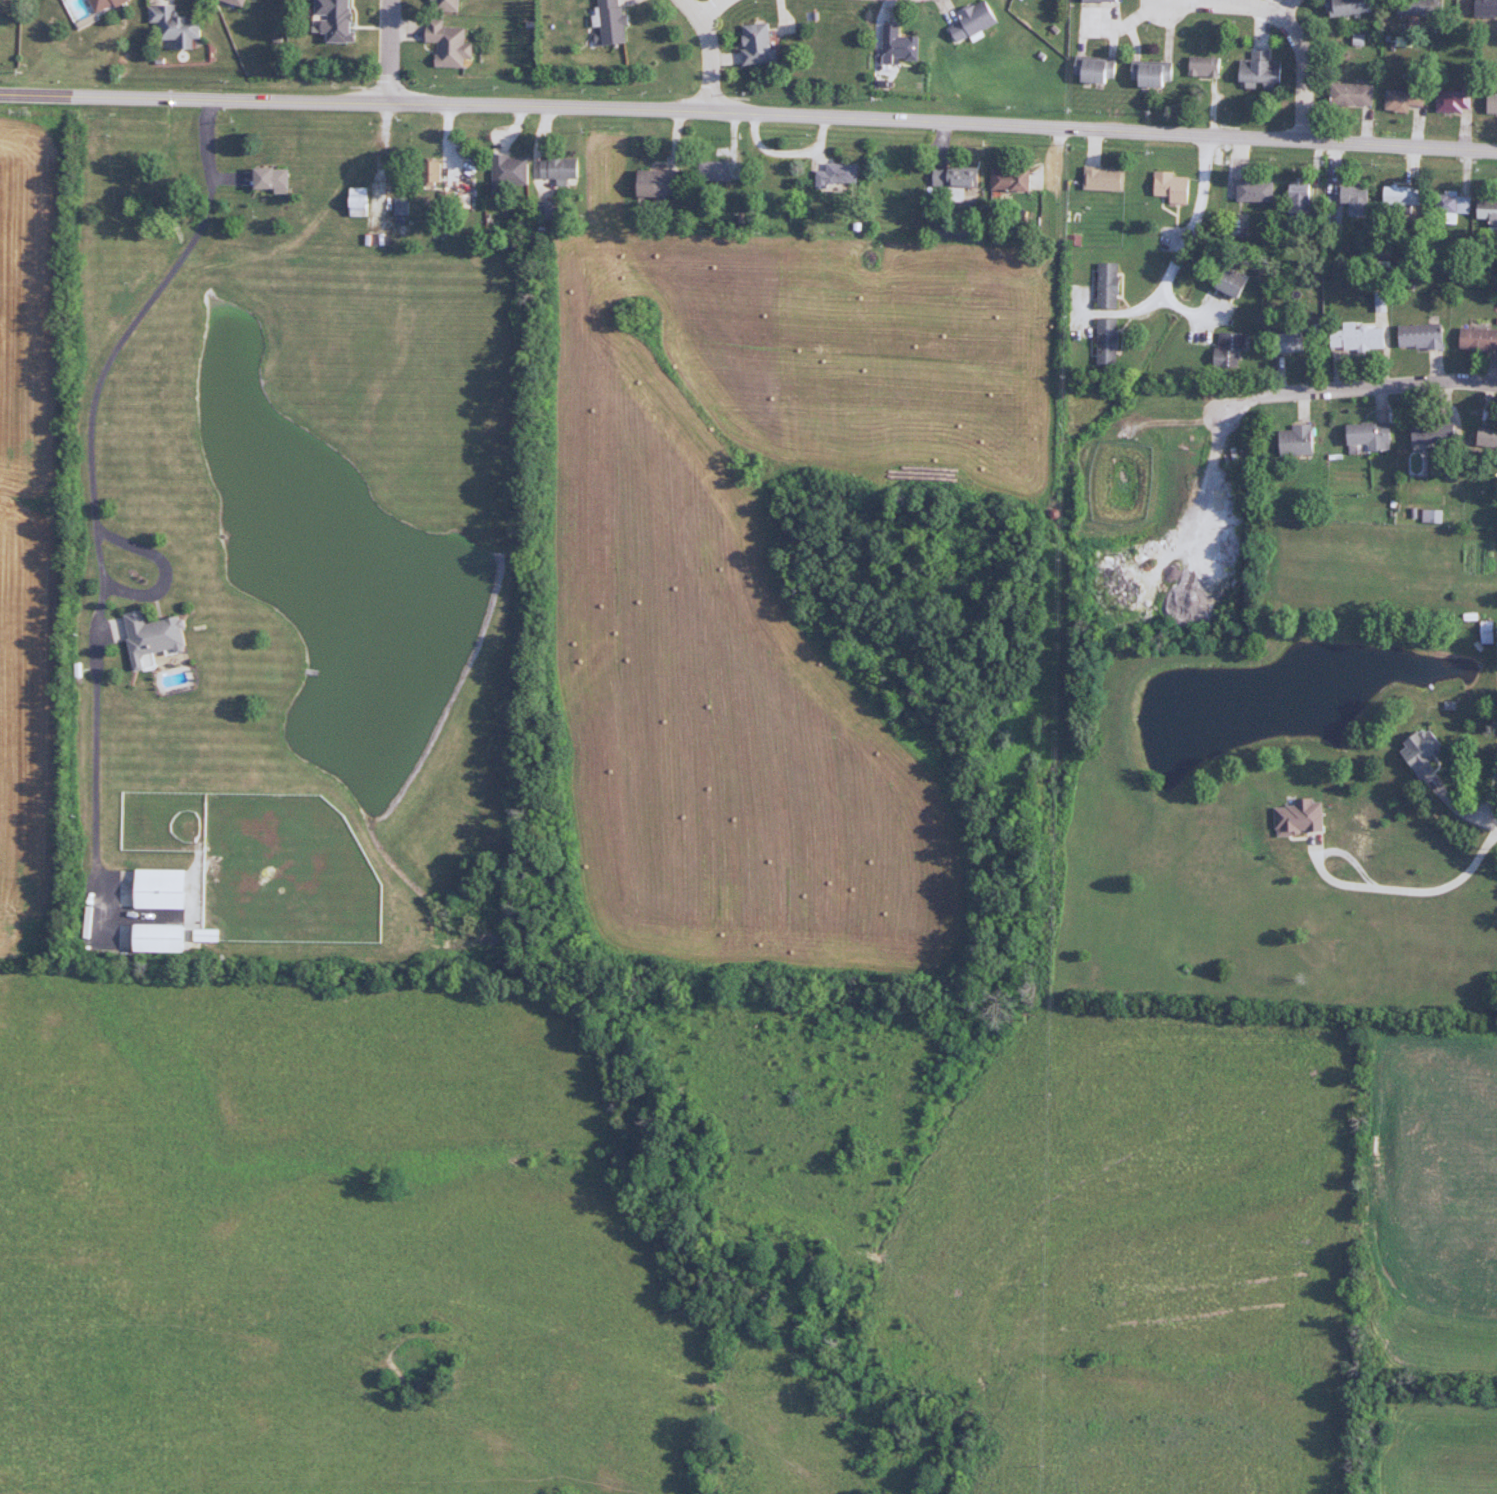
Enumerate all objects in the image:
building: (1094, 0)
building: (241, 2)
building: (450, 4)
building: (107, 5)
road: (1291, 7)
building: (1342, 7)
building: (1415, 7)
building: (1482, 7)
road: (713, 9)
road: (1287, 14)
building: (968, 20)
building: (339, 21)
building: (605, 21)
building: (182, 25)
building: (751, 43)
building: (894, 43)
building: (454, 45)
road: (392, 50)
road: (705, 51)
building: (1200, 66)
building: (1092, 70)
building: (1255, 71)
building: (1148, 74)
building: (1347, 94)
road: (355, 100)
building: (1399, 100)
building: (1449, 102)
building: (1489, 105)
road: (1103, 130)
building: (564, 168)
building: (513, 171)
building: (709, 171)
building: (832, 176)
building: (275, 179)
building: (1099, 179)
building: (949, 180)
building: (1005, 180)
building: (650, 184)
building: (1168, 187)
building: (1252, 191)
building: (1393, 196)
building: (1297, 197)
building: (1353, 200)
building: (364, 202)
road: (1057, 202)
building: (1448, 206)
building: (1485, 212)
road: (1197, 213)
building: (1223, 284)
building: (1103, 285)
building: (1353, 337)
building: (1416, 337)
building: (1475, 339)
building: (1102, 341)
building: (1283, 343)
building: (1224, 349)
road: (1364, 387)
road: (93, 404)
building: (1426, 433)
building: (1362, 436)
building: (1484, 436)
building: (1292, 440)
building: (158, 636)
road: (90, 725)
building: (1415, 751)
road: (1465, 812)
road: (1316, 856)
road: (1444, 885)
building: (165, 887)
building: (211, 934)
building: (166, 937)

